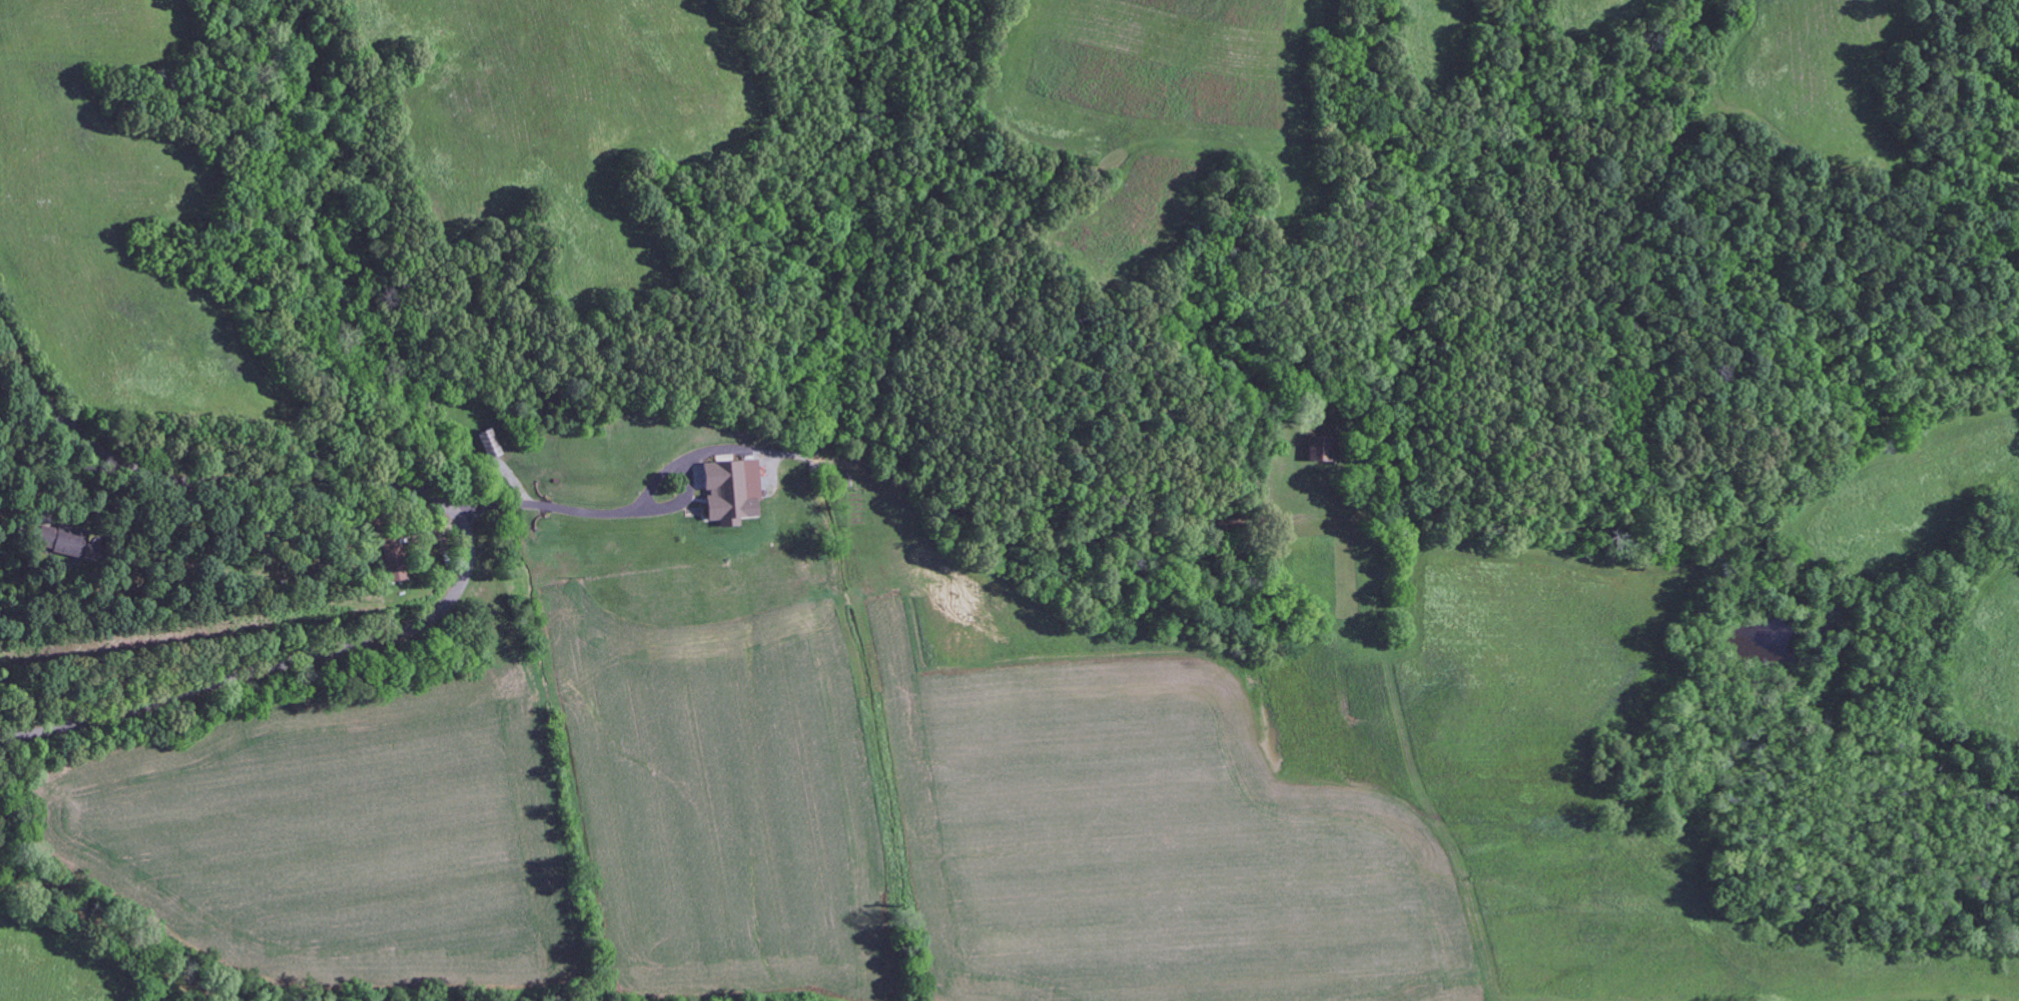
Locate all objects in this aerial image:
building: (1319, 449)
road: (866, 477)
building: (728, 491)
road: (465, 531)
building: (60, 539)
road: (371, 774)

